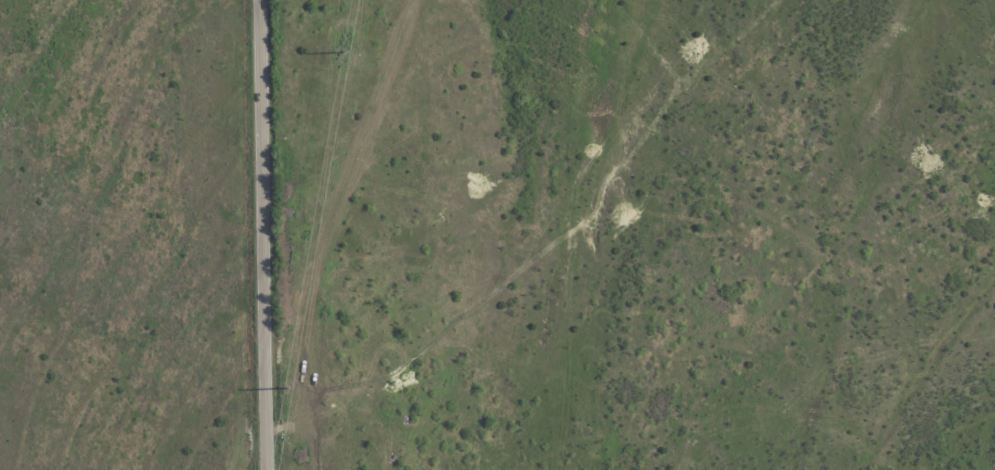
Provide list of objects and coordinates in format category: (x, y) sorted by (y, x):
road: (851, 106)
road: (550, 190)
road: (445, 230)
road: (626, 231)
road: (263, 235)
road: (864, 412)

